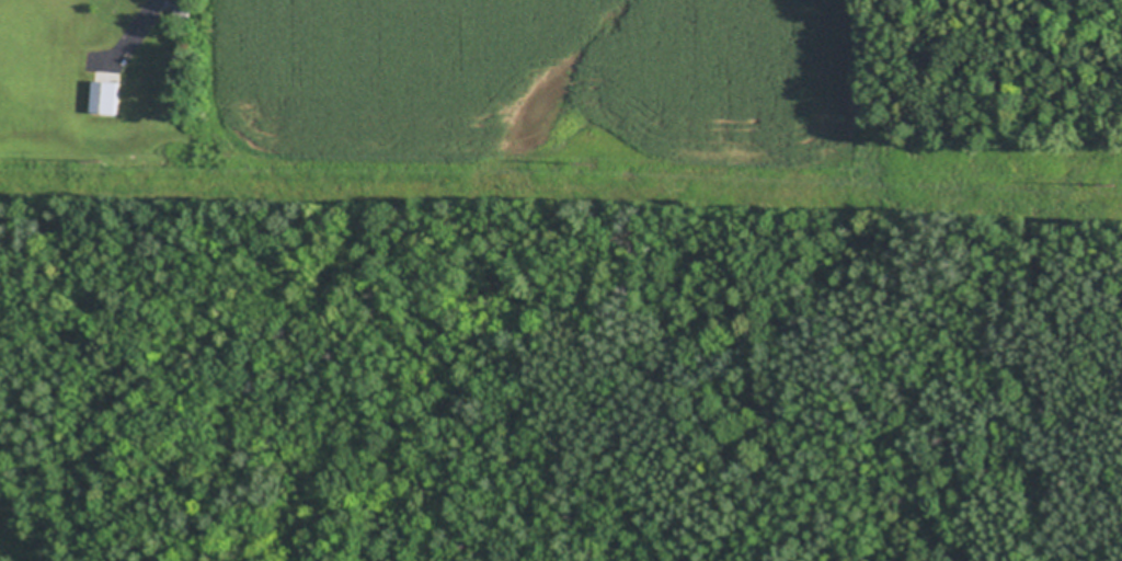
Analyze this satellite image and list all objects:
building: (187, 8)
road: (141, 26)
building: (107, 96)
power tower: (103, 162)
power tower: (592, 167)
power tower: (1113, 187)

